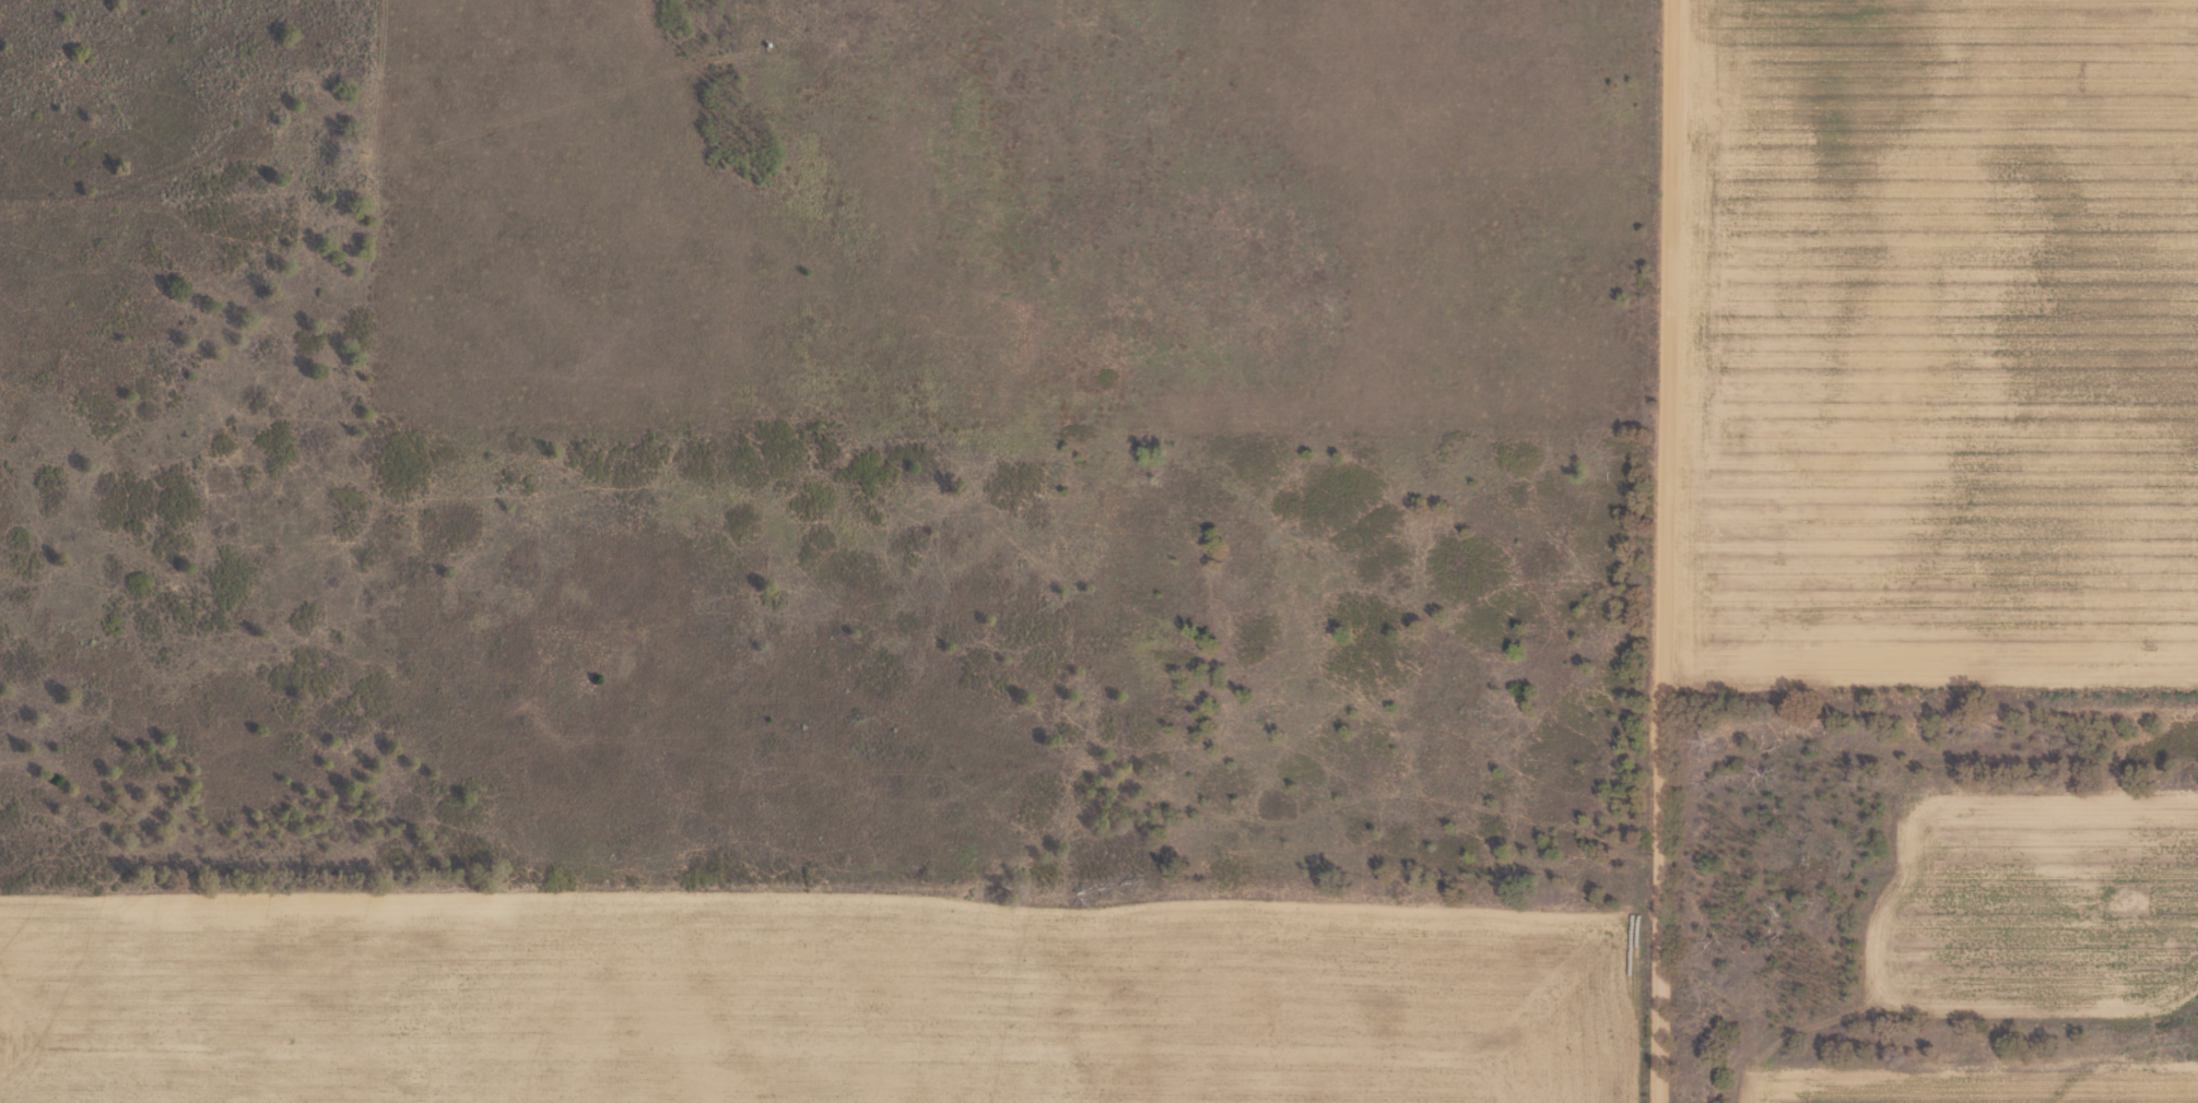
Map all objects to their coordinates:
crop: (1098, 551)
road: (1668, 551)

